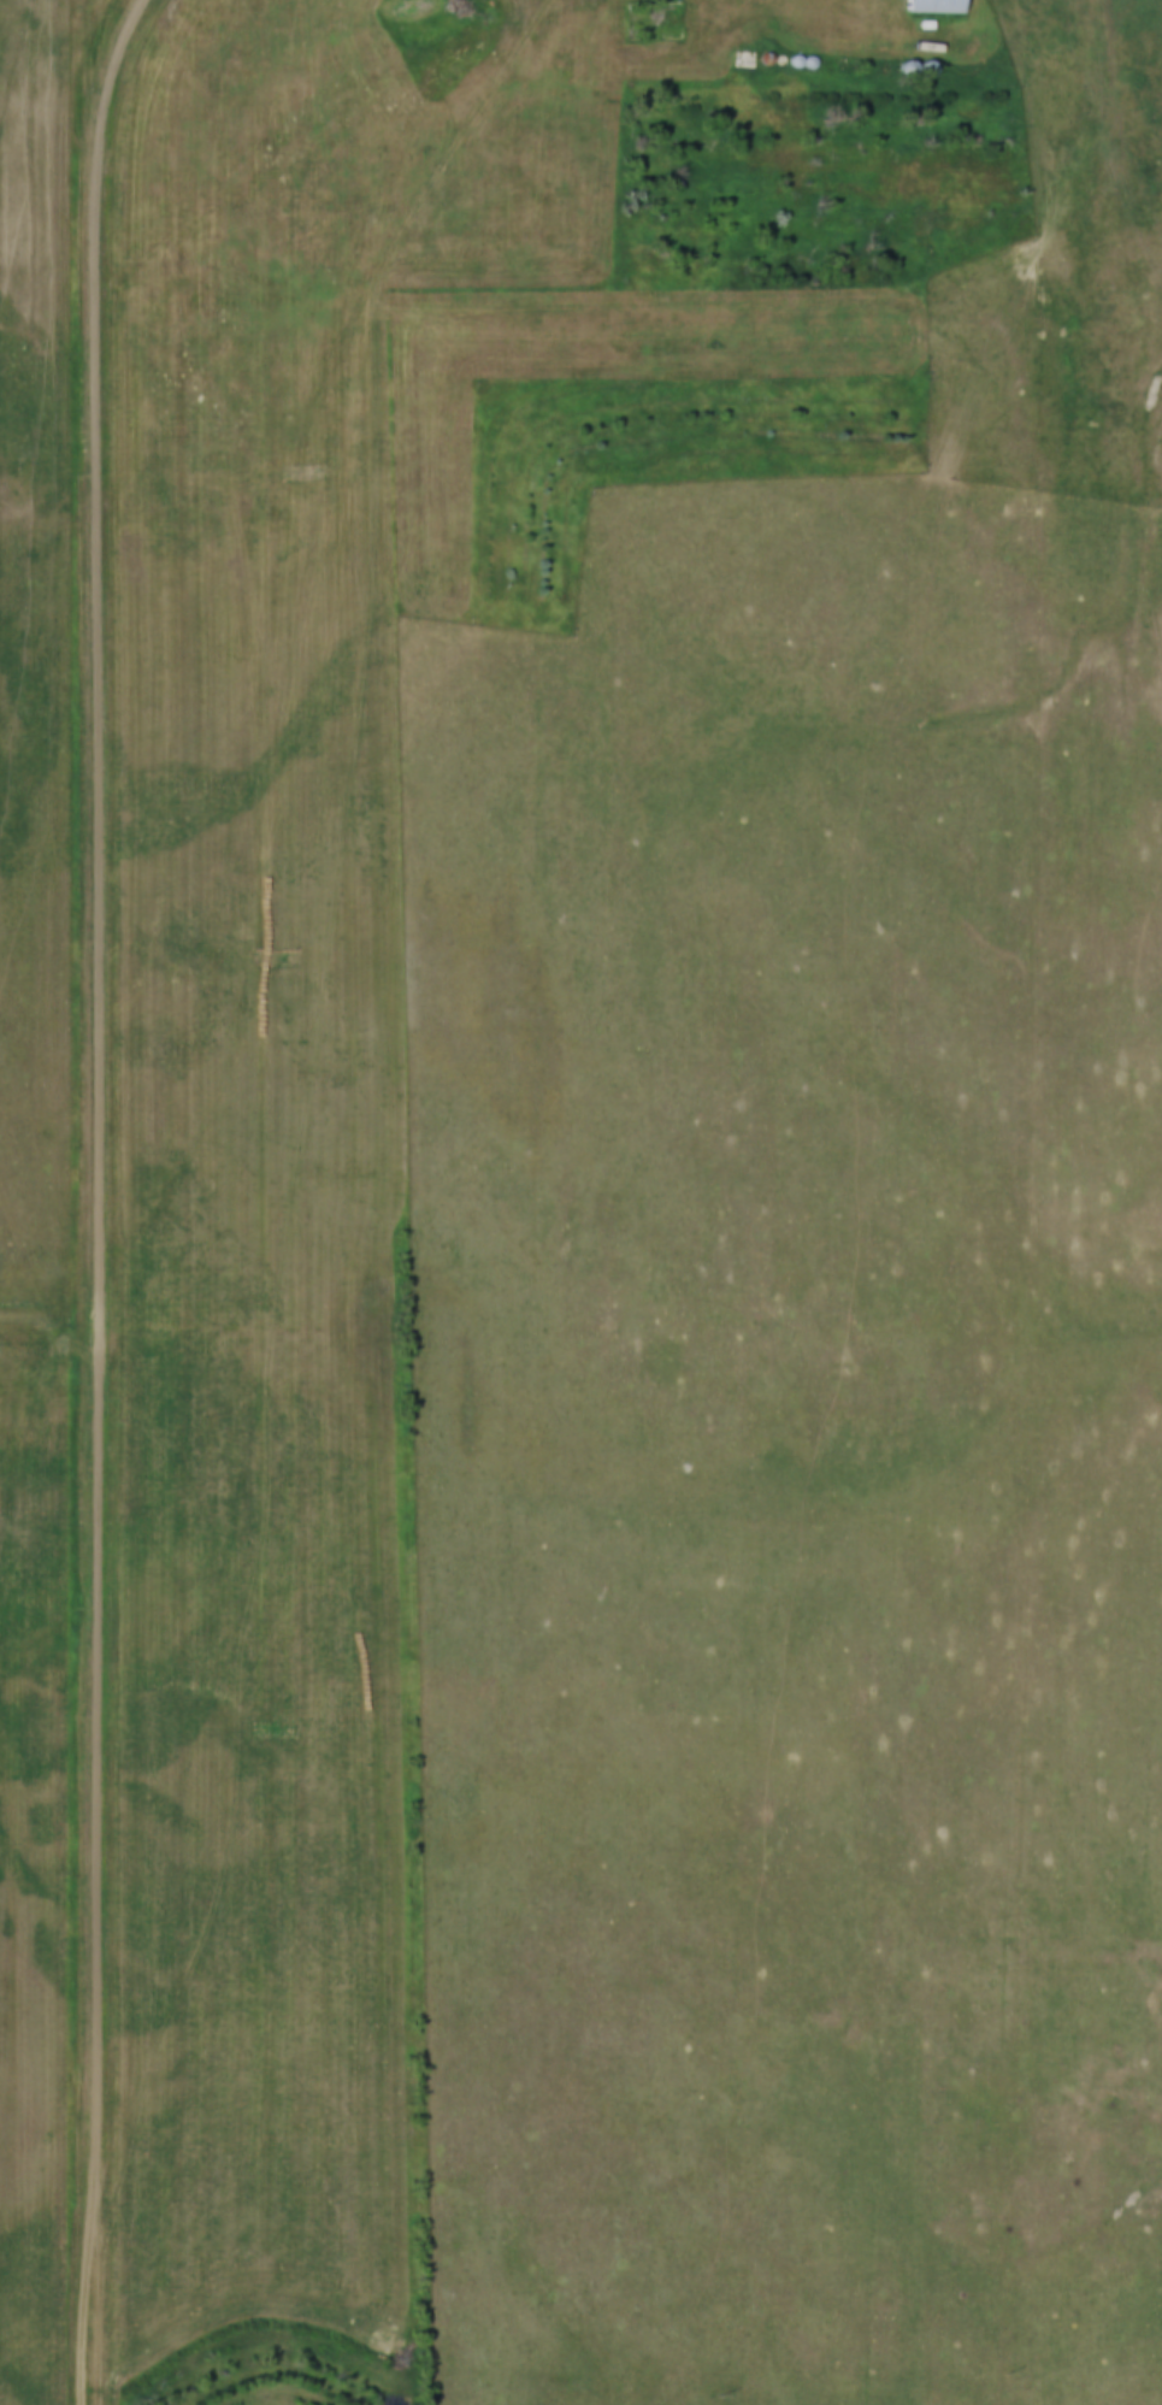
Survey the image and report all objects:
building: (932, 6)
building: (893, 29)
building: (743, 58)
building: (726, 94)
silo: (726, 94)
building: (755, 95)
silo: (755, 95)
building: (771, 96)
silo: (771, 96)
building: (869, 102)
silo: (869, 102)
building: (891, 104)
silo: (891, 104)
road: (99, 1198)
road: (49, 1343)

